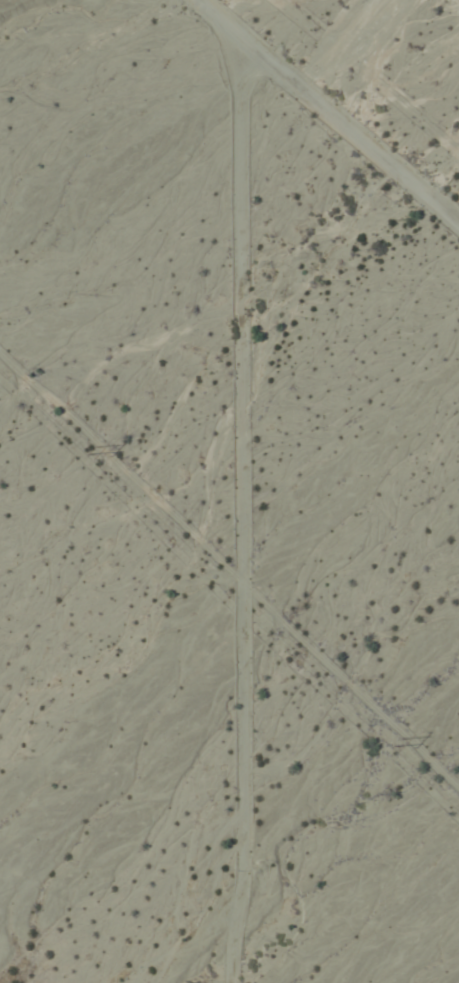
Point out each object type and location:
road: (327, 111)
power tower: (87, 454)
power tower: (394, 746)

